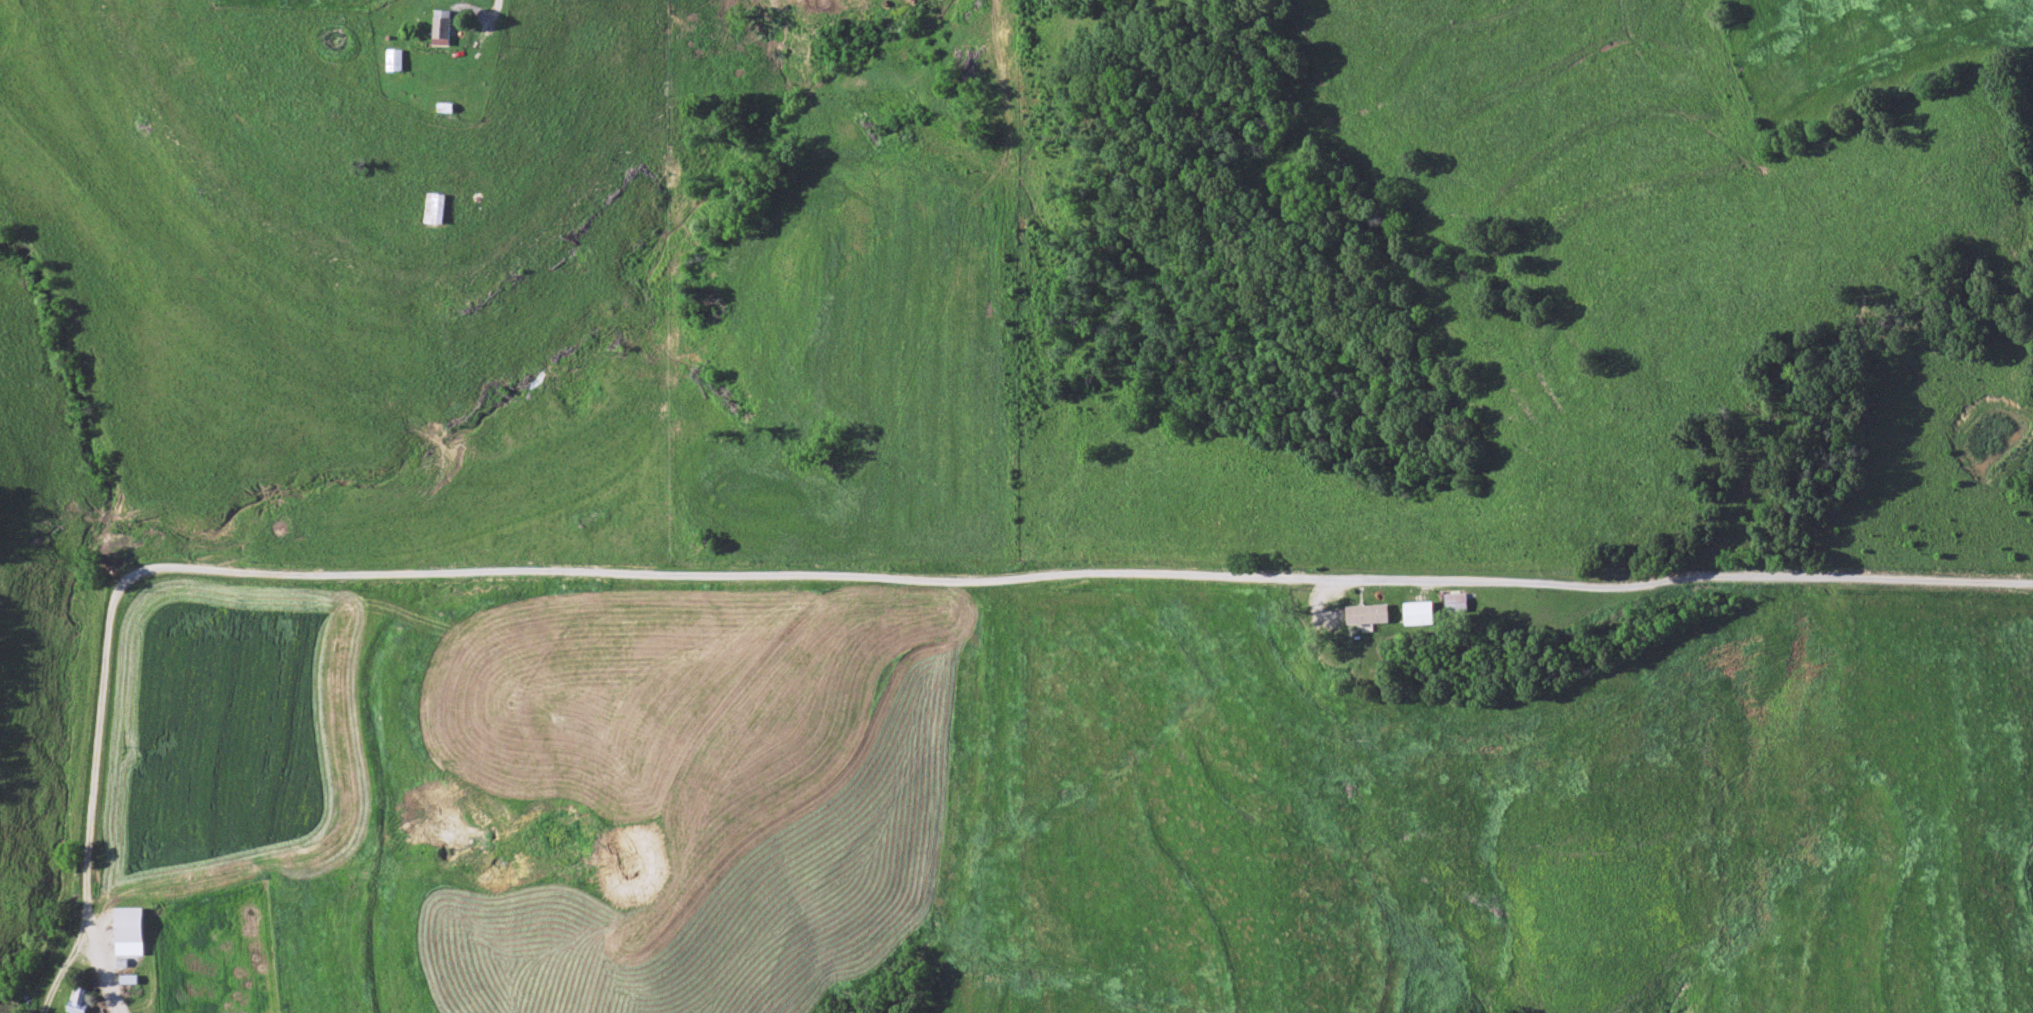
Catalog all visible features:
road: (906, 562)
road: (66, 959)
road: (103, 960)

